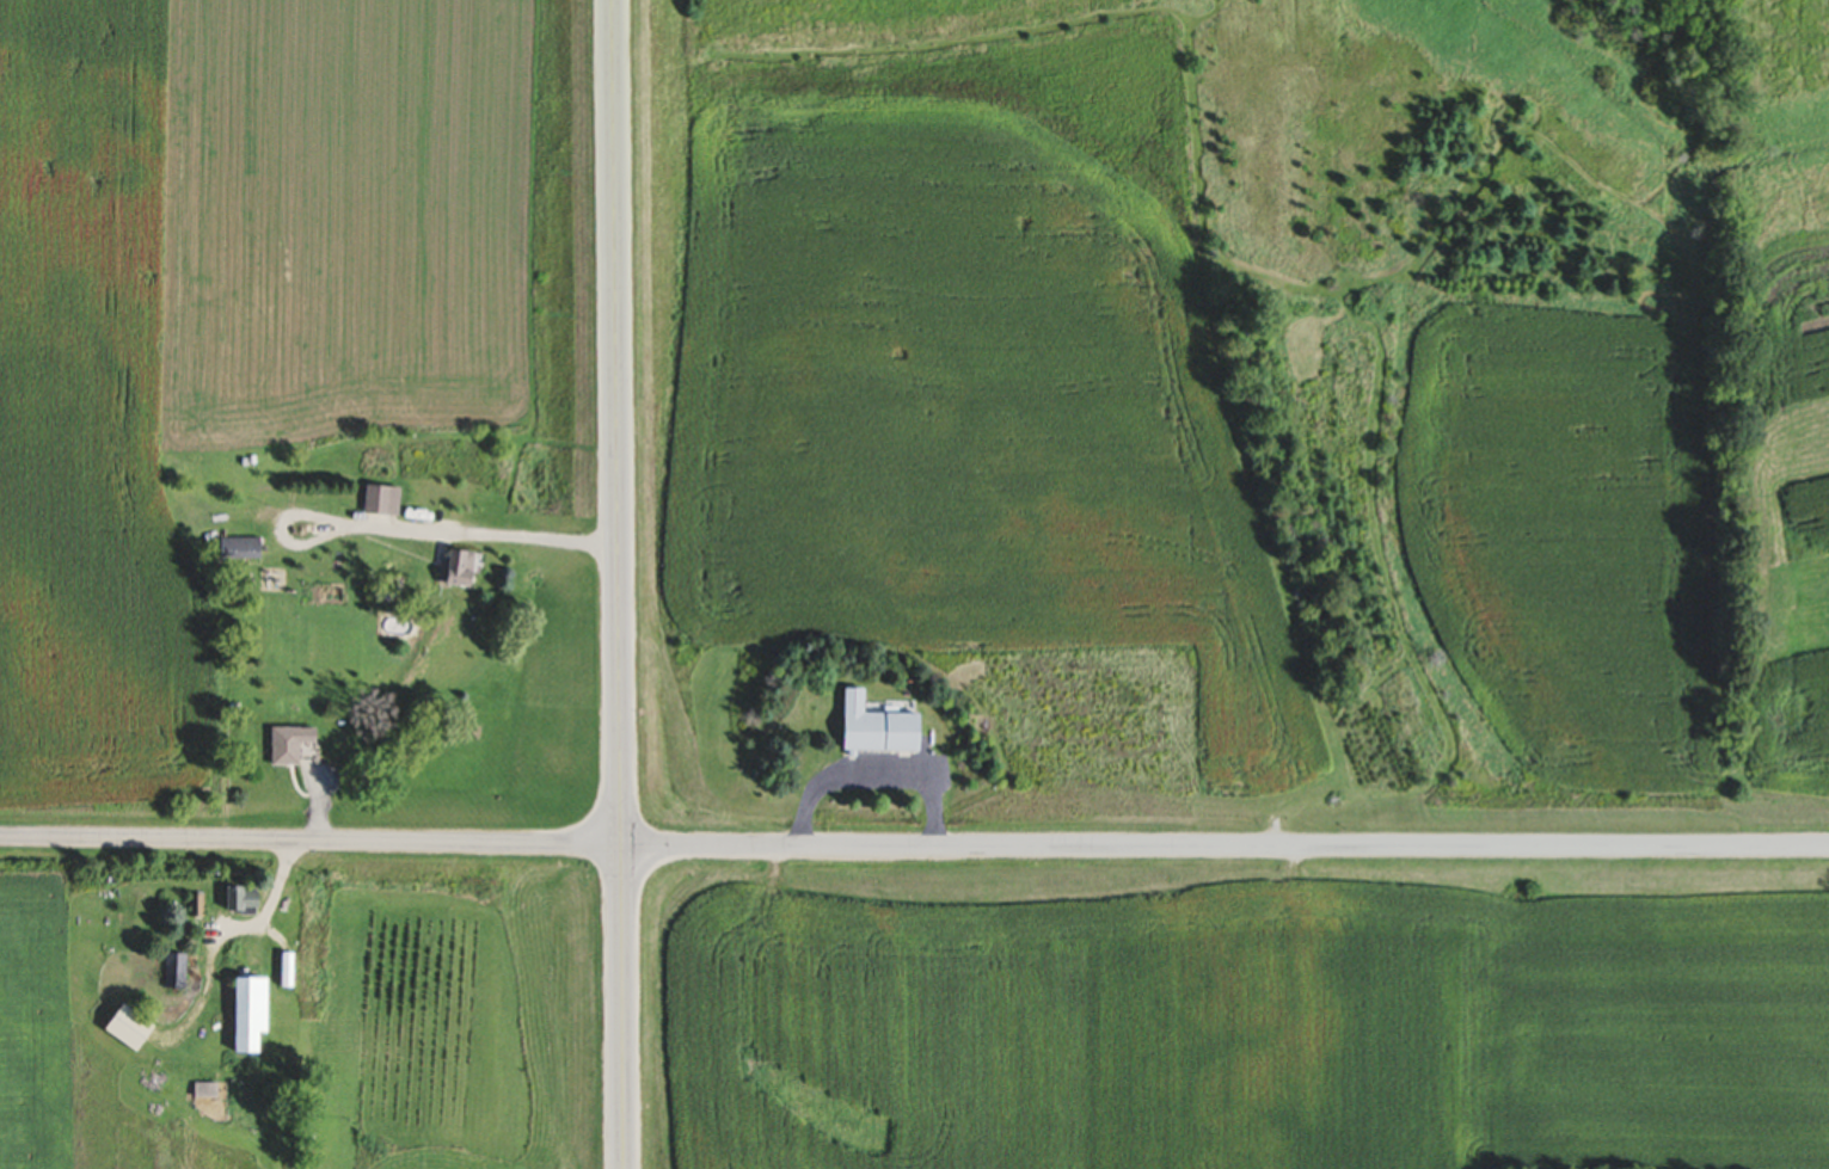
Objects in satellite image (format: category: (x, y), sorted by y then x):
building: (381, 502)
road: (460, 534)
building: (243, 547)
building: (461, 570)
road: (618, 584)
building: (871, 731)
building: (295, 745)
road: (871, 775)
road: (914, 848)
building: (250, 900)
building: (178, 972)
building: (257, 1015)
building: (135, 1028)
building: (208, 1090)

